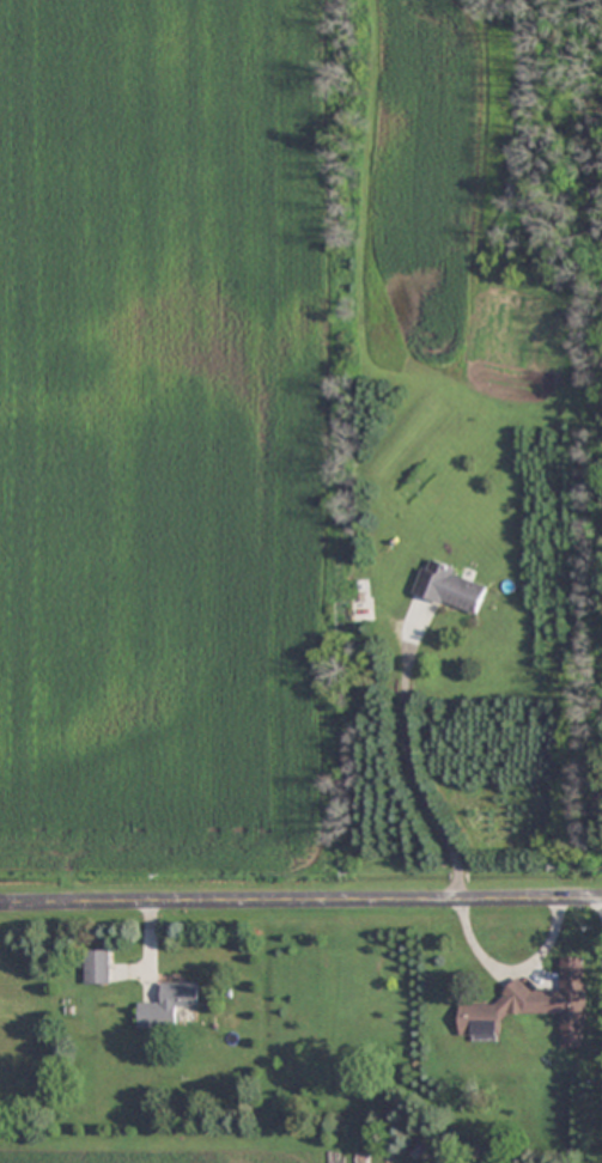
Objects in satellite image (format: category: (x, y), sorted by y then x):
building: (451, 586)
road: (300, 897)
building: (97, 966)
building: (169, 1004)
building: (535, 1006)

